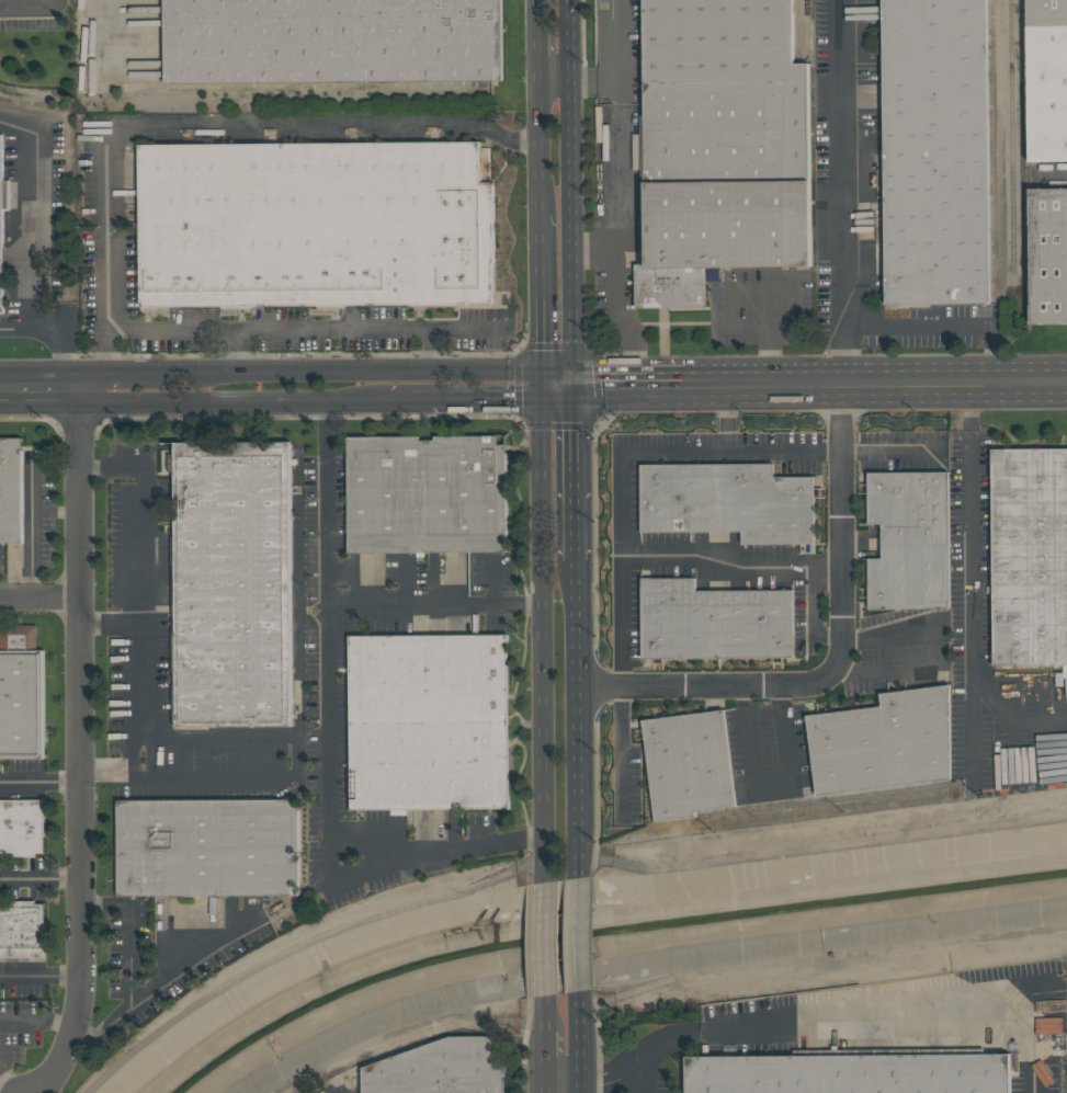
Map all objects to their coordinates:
road: (31, 7)
road: (102, 26)
building: (332, 41)
road: (532, 41)
road: (617, 61)
building: (1047, 79)
road: (553, 81)
railway: (243, 89)
railway: (245, 111)
road: (270, 121)
building: (722, 145)
railway: (1011, 146)
road: (534, 147)
railway: (995, 147)
railway: (1024, 150)
building: (935, 151)
road: (617, 187)
road: (845, 191)
road: (574, 192)
road: (23, 217)
building: (2, 221)
building: (316, 225)
building: (1048, 255)
building: (713, 274)
road: (729, 294)
road: (535, 298)
road: (107, 299)
road: (618, 319)
road: (945, 325)
road: (175, 326)
road: (354, 327)
road: (56, 333)
traffic signals: (536, 342)
road: (364, 372)
road: (128, 373)
road: (876, 383)
traffic signals: (601, 384)
road: (603, 384)
road: (659, 384)
road: (556, 385)
road: (7, 386)
road: (44, 387)
road: (467, 399)
traffic signals: (517, 399)
road: (231, 400)
road: (725, 419)
traffic signals: (576, 432)
road: (576, 471)
road: (622, 478)
building: (11, 490)
building: (427, 494)
building: (728, 502)
road: (329, 503)
road: (54, 513)
road: (29, 527)
building: (909, 539)
building: (1029, 556)
road: (730, 565)
building: (232, 584)
road: (972, 588)
road: (39, 600)
road: (146, 615)
building: (713, 620)
road: (112, 624)
road: (538, 631)
road: (937, 654)
road: (841, 657)
building: (21, 693)
road: (579, 718)
building: (429, 722)
building: (881, 742)
road: (79, 745)
road: (328, 749)
building: (685, 764)
road: (296, 765)
road: (39, 781)
road: (773, 789)
building: (22, 827)
building: (207, 847)
road: (41, 877)
building: (22, 929)
road: (541, 936)
road: (582, 936)
road: (127, 937)
road: (41, 975)
road: (156, 987)
road: (541, 1013)
road: (34, 1025)
road: (794, 1025)
road: (1011, 1038)
road: (583, 1044)
road: (541, 1049)
road: (563, 1067)
road: (625, 1067)
building: (442, 1068)
building: (849, 1072)
road: (542, 1080)
road: (20, 1086)

